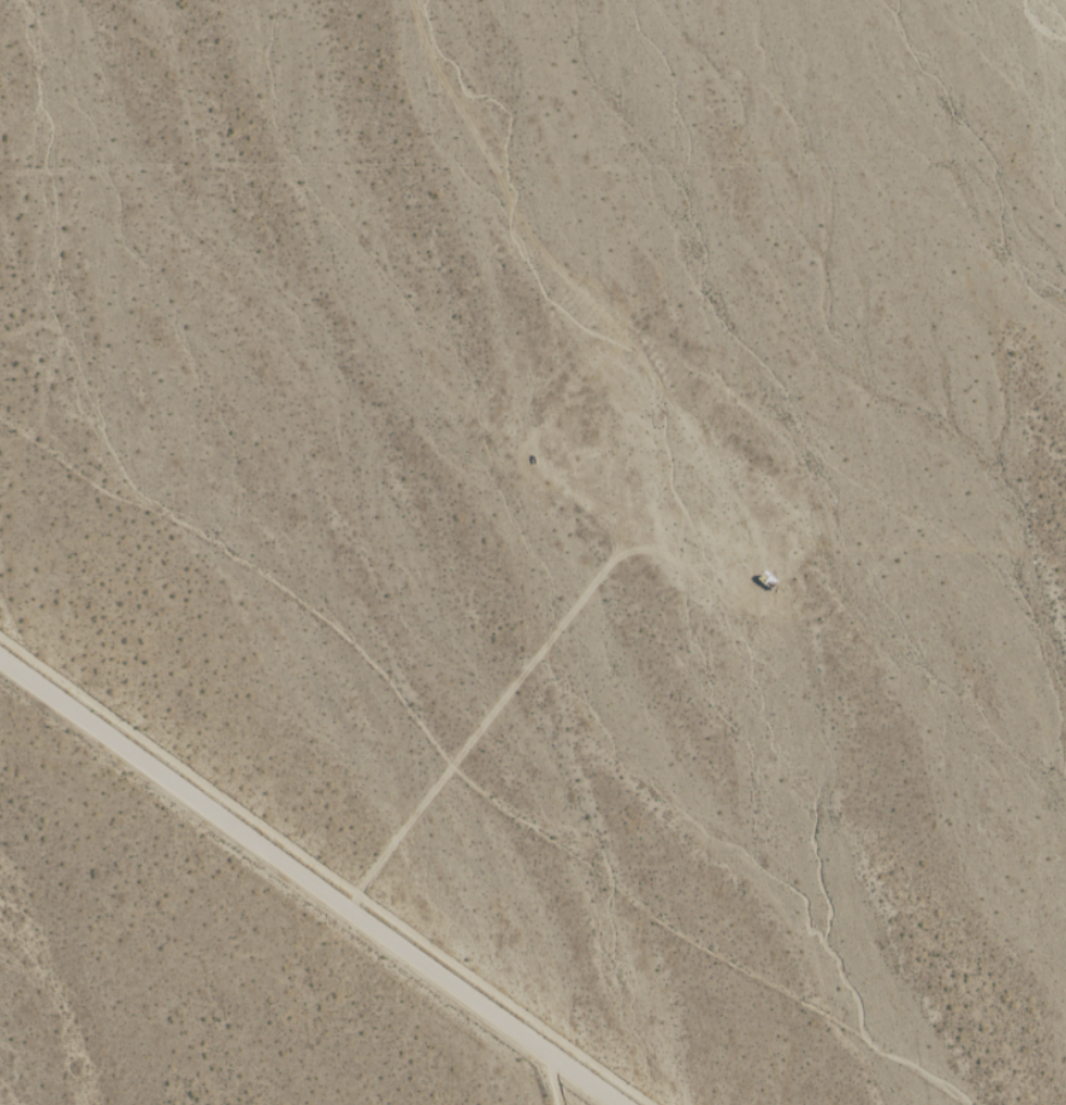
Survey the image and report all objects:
road: (312, 880)

